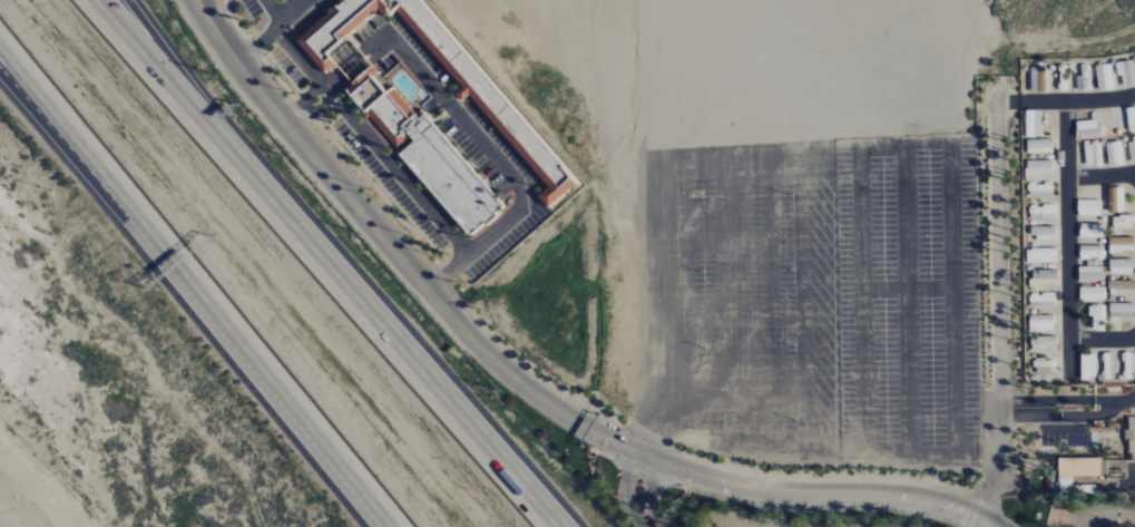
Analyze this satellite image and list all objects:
parking lot: (260, 8)
road: (273, 32)
parking lot: (282, 46)
building: (358, 66)
building: (1105, 76)
road: (333, 77)
road: (342, 87)
road: (176, 94)
road: (194, 94)
road: (1077, 100)
road: (1009, 103)
building: (385, 110)
road: (458, 117)
road: (906, 119)
building: (1033, 124)
building: (1087, 129)
road: (362, 131)
parking lot: (464, 145)
building: (530, 146)
building: (1039, 146)
road: (63, 147)
building: (1115, 154)
building: (1093, 155)
building: (1039, 168)
building: (452, 177)
road: (1099, 177)
parking lot: (388, 184)
building: (1115, 201)
road: (676, 203)
building: (1088, 208)
road: (723, 213)
building: (1043, 213)
road: (769, 222)
parking lot: (810, 223)
building: (1123, 223)
road: (815, 225)
road: (859, 225)
road: (904, 226)
road: (951, 226)
building: (1092, 231)
building: (1043, 233)
road: (1066, 240)
road: (479, 245)
building: (1121, 245)
building: (1092, 252)
building: (1041, 255)
building: (1121, 266)
building: (1089, 274)
building: (1044, 279)
road: (197, 284)
building: (1122, 289)
building: (1090, 294)
road: (998, 299)
building: (1043, 301)
building: (1122, 311)
building: (1097, 316)
building: (1041, 323)
road: (1102, 340)
building: (1047, 341)
road: (408, 358)
building: (1088, 367)
road: (516, 380)
road: (1131, 400)
road: (1046, 401)
road: (1110, 401)
road: (1110, 411)
road: (1046, 417)
road: (661, 429)
road: (747, 435)
parking lot: (1063, 436)
road: (1108, 436)
building: (1131, 436)
road: (864, 451)
road: (1040, 453)
road: (953, 455)
road: (1039, 468)
building: (1085, 468)
building: (1055, 485)
building: (1067, 486)
road: (1126, 486)
road: (625, 491)
road: (648, 496)
road: (787, 508)
parking lot: (1090, 514)
road: (1100, 515)
parking lot: (759, 521)
road: (990, 523)

